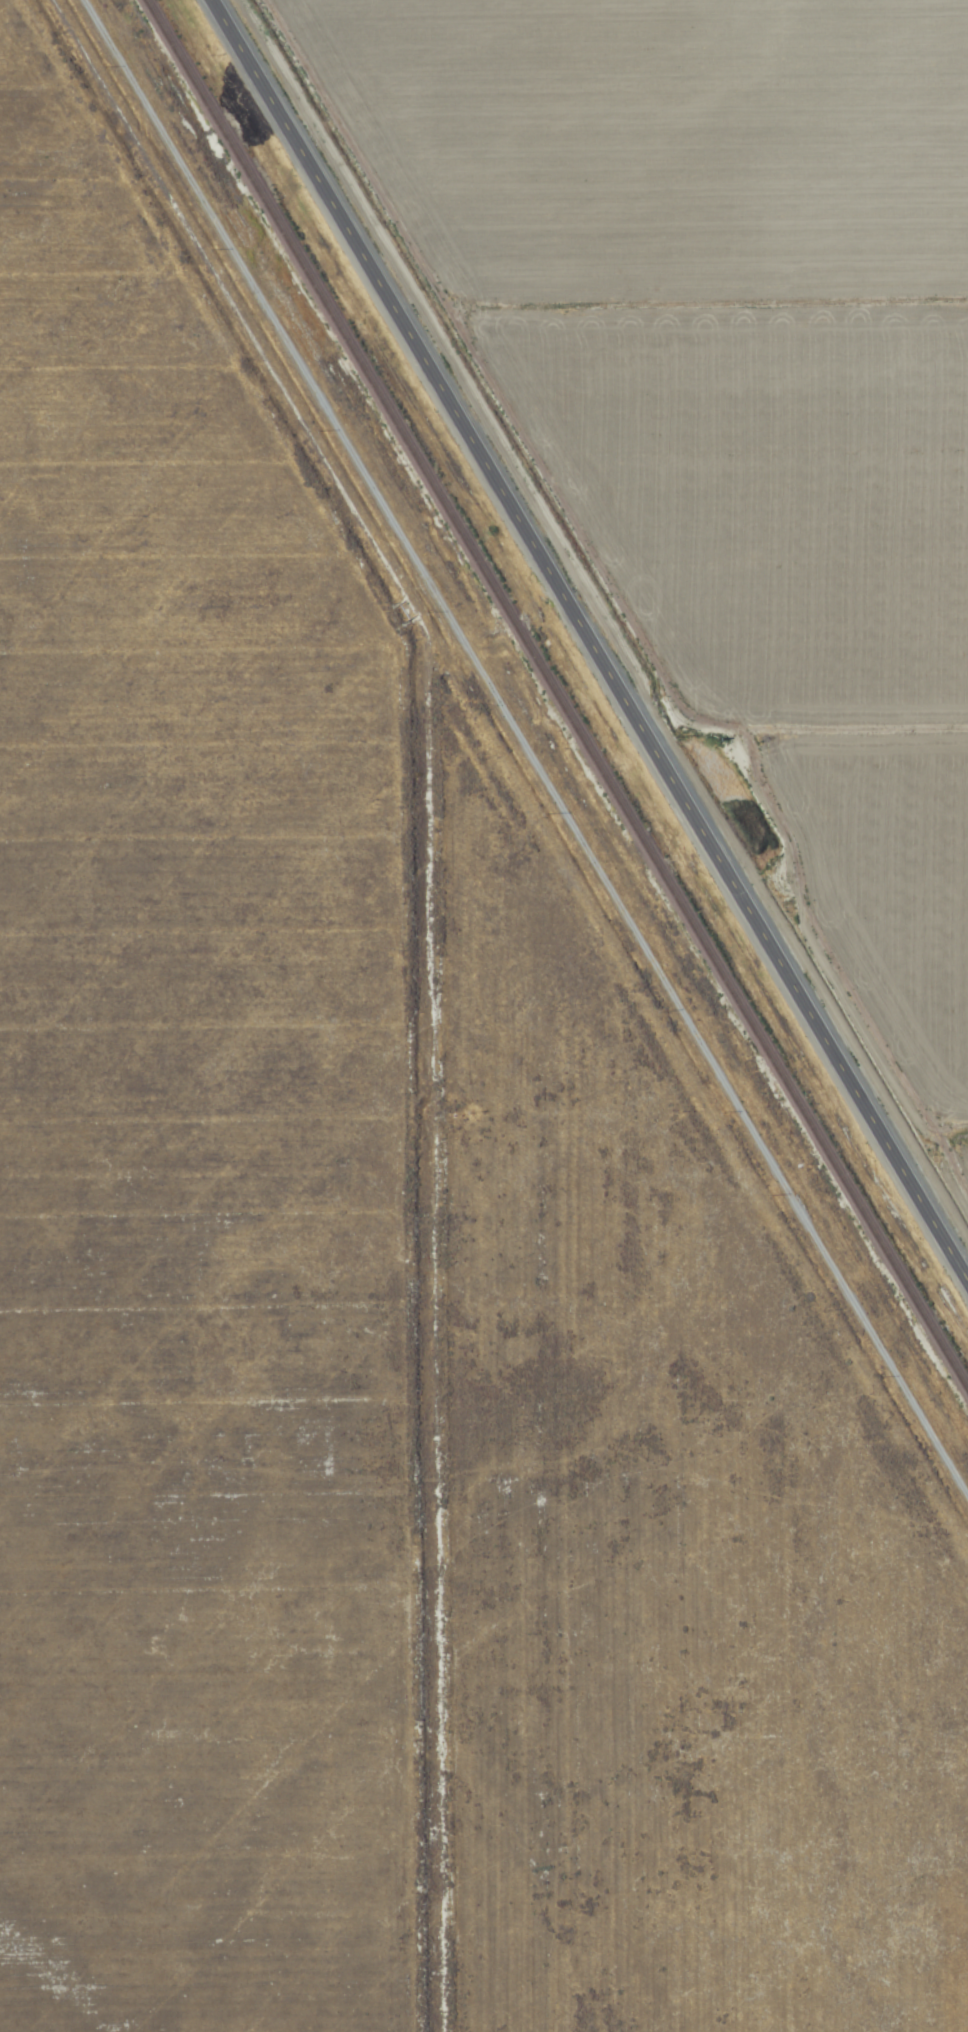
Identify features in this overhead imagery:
road: (591, 636)
railway: (556, 696)
road: (804, 710)
road: (524, 741)
crop: (418, 1179)
park: (375, 1313)

